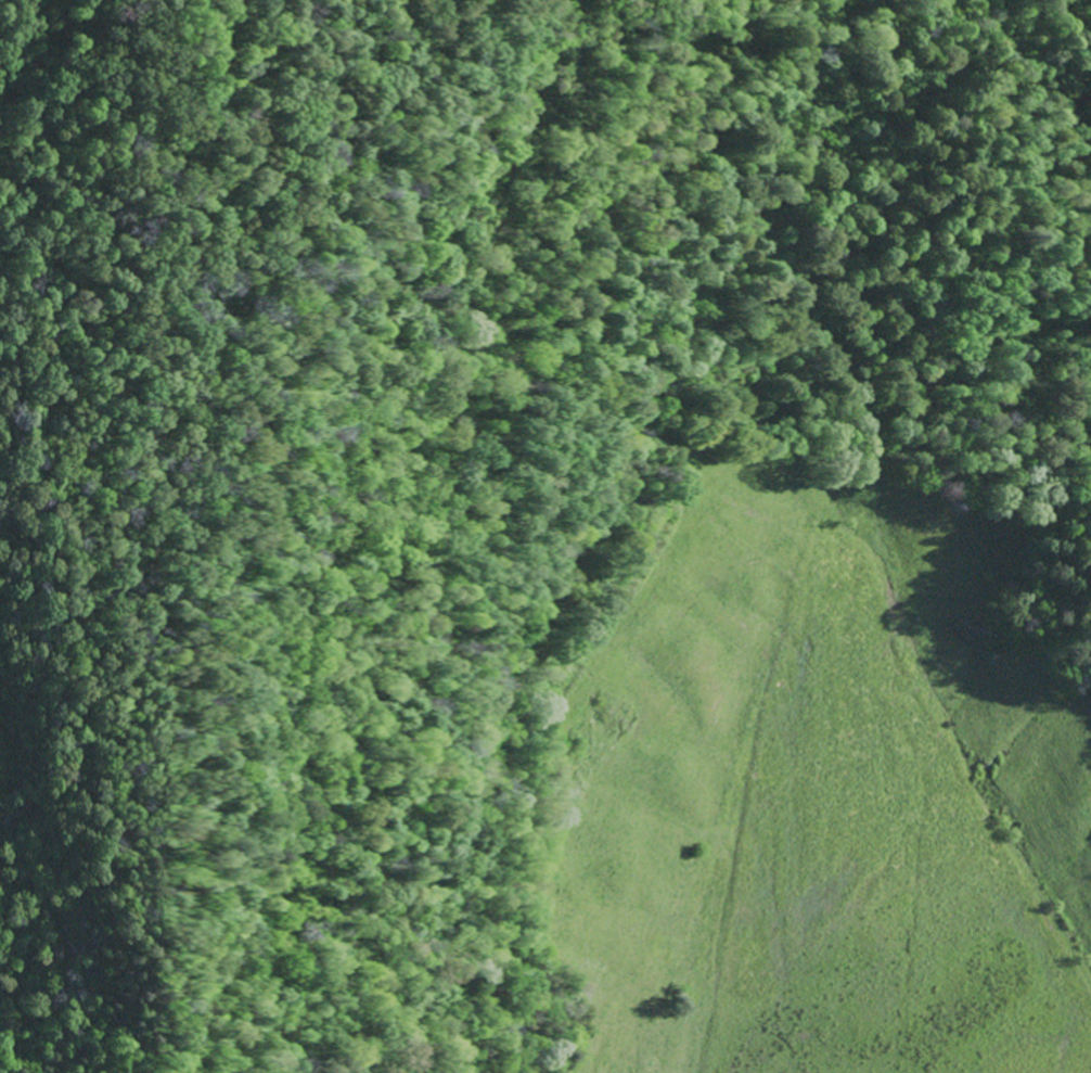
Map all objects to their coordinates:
road: (1001, 805)

